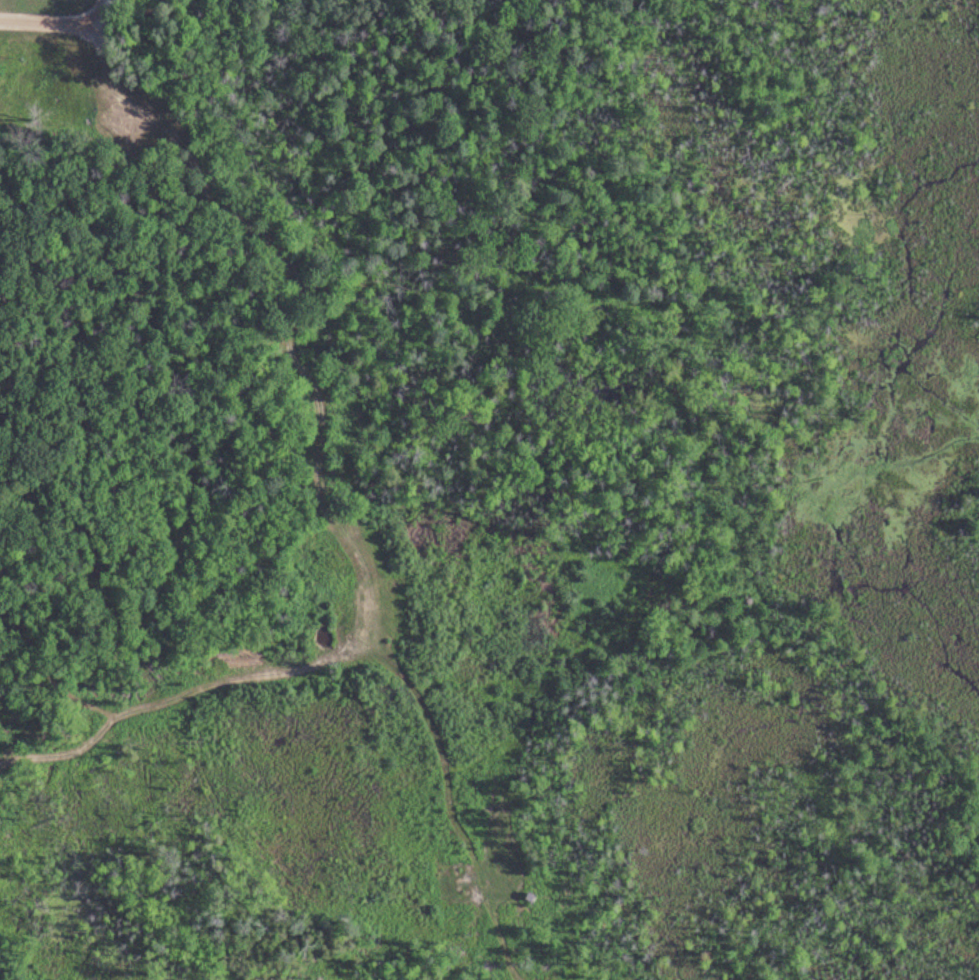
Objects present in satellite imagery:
road: (59, 29)

